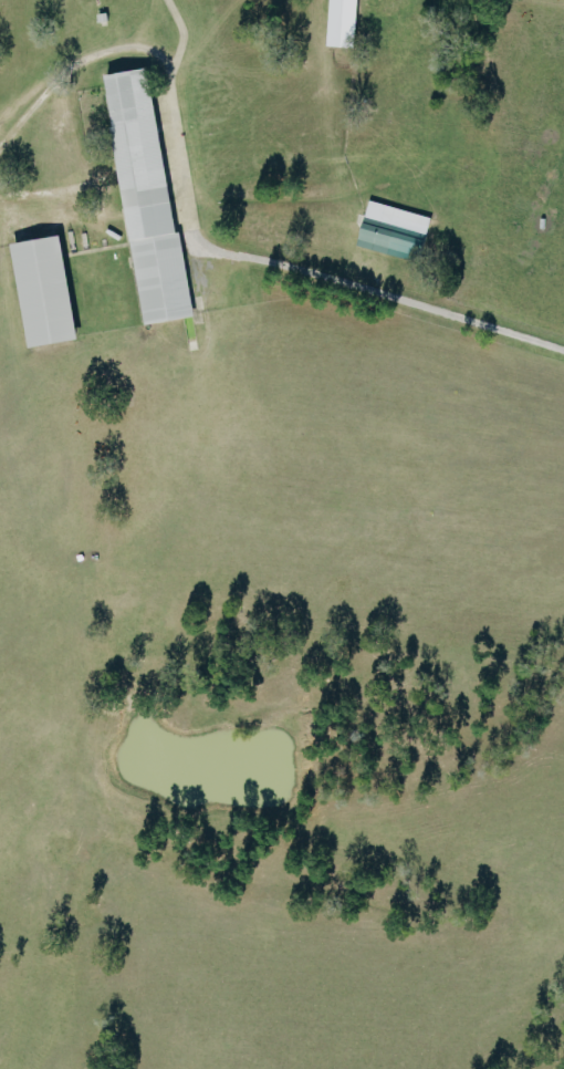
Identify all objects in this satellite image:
building: (336, 22)
building: (140, 200)
building: (393, 216)
building: (379, 240)
building: (36, 290)

